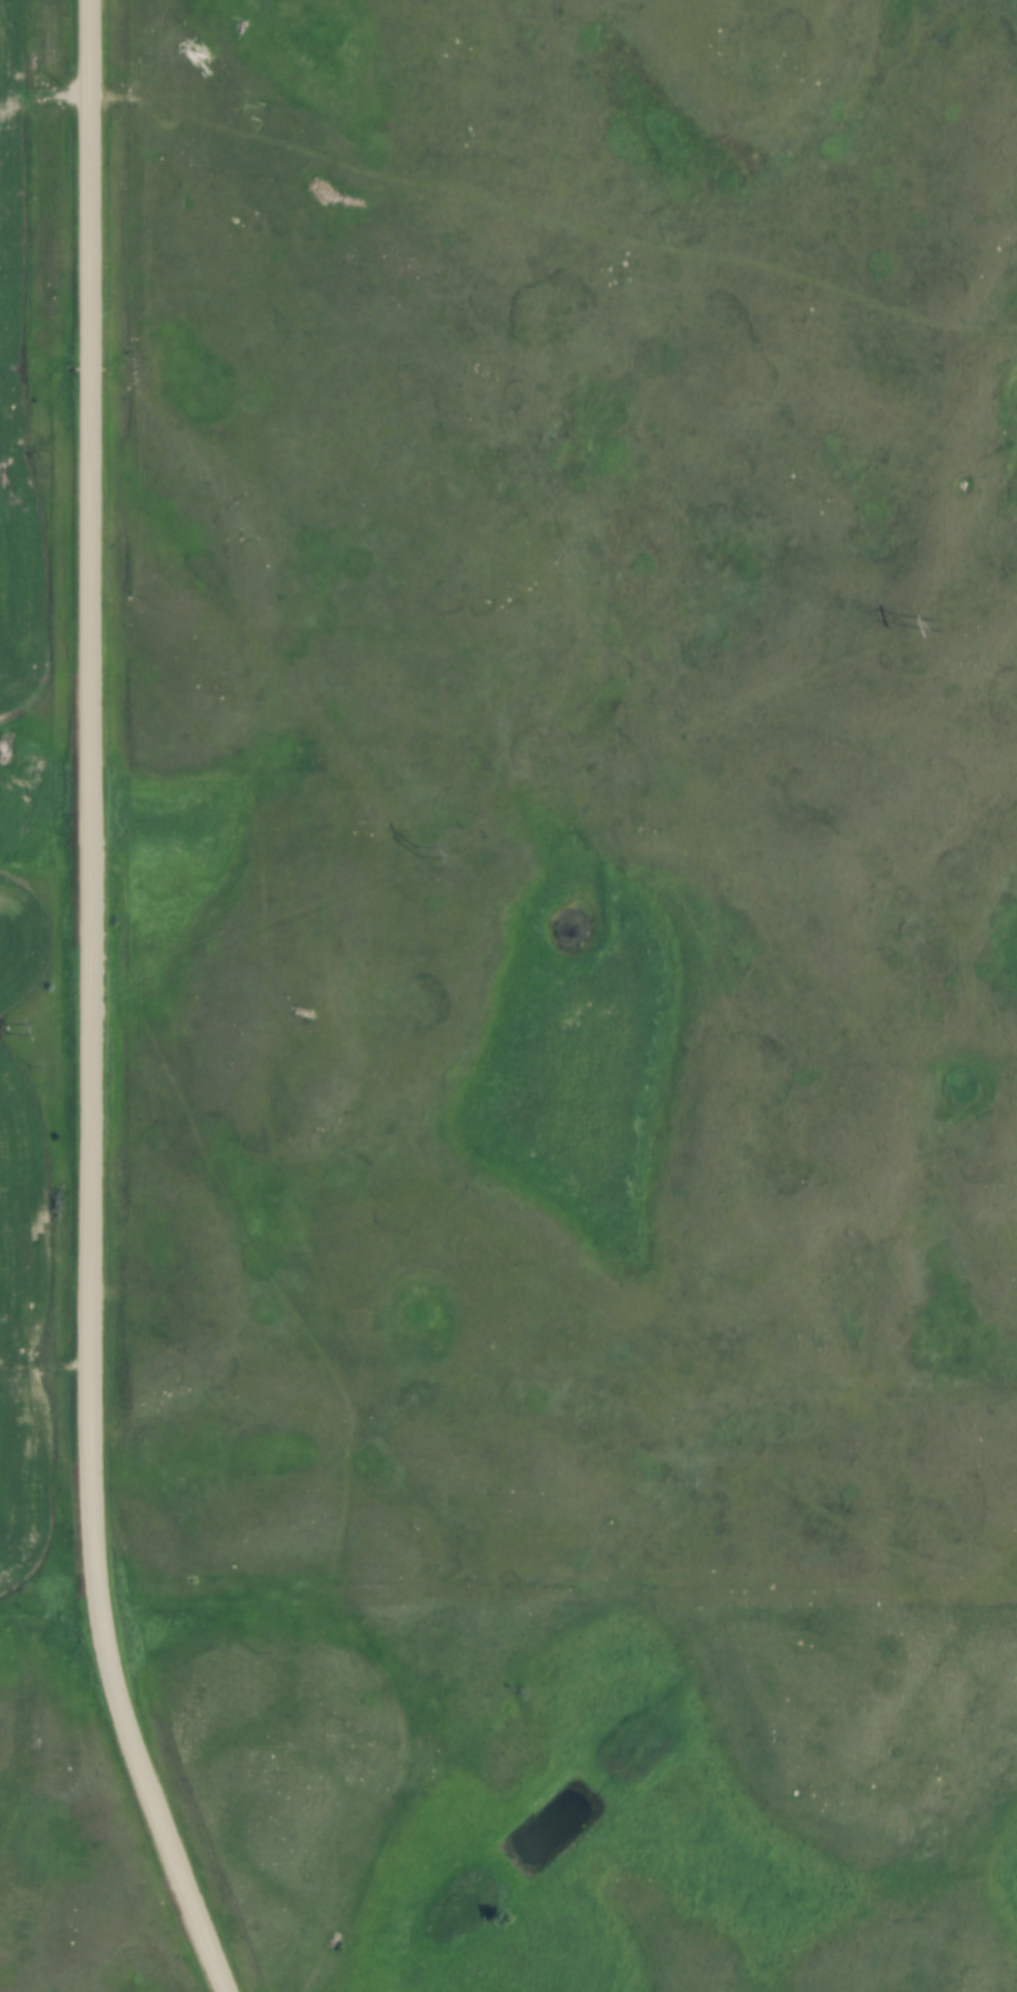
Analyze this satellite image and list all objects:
power tower: (940, 625)
power tower: (415, 851)
road: (89, 1006)
power tower: (5, 1028)

